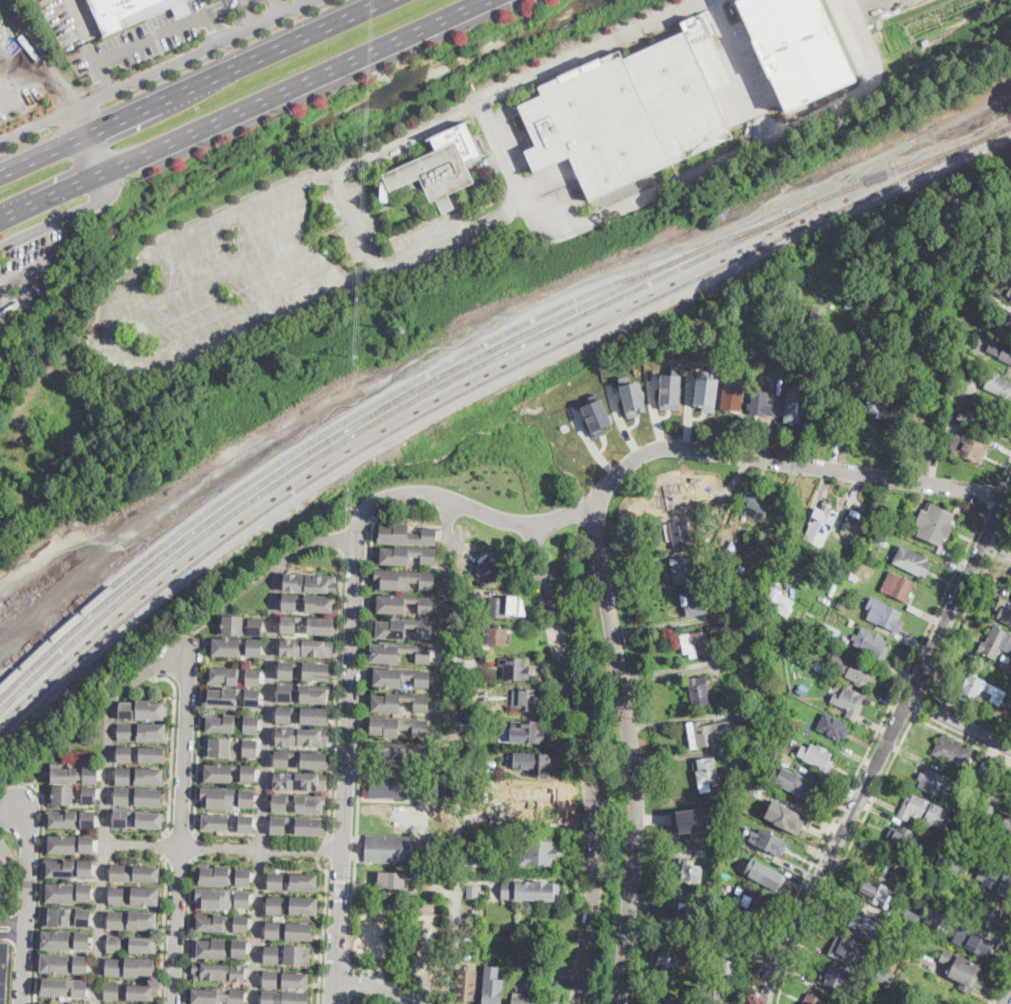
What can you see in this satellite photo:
parking lot: (237, 4)
building: (182, 8)
road: (275, 8)
parking lot: (882, 8)
building: (123, 11)
road: (250, 13)
parking lot: (70, 22)
road: (89, 29)
road: (152, 35)
railway: (960, 36)
parking lot: (146, 37)
railway: (947, 38)
building: (926, 41)
building: (797, 47)
road: (588, 48)
road: (157, 71)
parking lot: (743, 75)
road: (59, 85)
road: (196, 88)
road: (861, 89)
parking lot: (16, 100)
road: (244, 108)
building: (633, 110)
road: (718, 163)
building: (440, 166)
parking lot: (567, 184)
road: (65, 216)
parking lot: (431, 246)
building: (813, 264)
road: (382, 265)
parking lot: (239, 272)
road: (207, 278)
building: (770, 292)
building: (735, 295)
building: (30, 297)
building: (12, 317)
building: (818, 319)
building: (1009, 323)
road: (109, 332)
railway: (539, 336)
building: (865, 350)
building: (1003, 351)
building: (973, 353)
building: (999, 385)
railway: (476, 387)
building: (885, 388)
building: (671, 389)
building: (707, 391)
building: (734, 392)
building: (633, 396)
building: (760, 403)
building: (878, 405)
building: (794, 409)
building: (828, 413)
building: (598, 415)
railway: (367, 418)
building: (981, 421)
railway: (344, 422)
building: (922, 442)
road: (666, 447)
building: (969, 448)
road: (1004, 469)
building: (695, 479)
road: (992, 493)
building: (674, 496)
building: (757, 506)
building: (789, 517)
building: (888, 517)
building: (824, 520)
building: (856, 523)
building: (935, 524)
building: (880, 532)
building: (681, 534)
building: (701, 534)
building: (405, 536)
building: (714, 536)
building: (722, 539)
building: (732, 543)
building: (781, 548)
road: (356, 552)
building: (729, 552)
building: (778, 555)
building: (403, 556)
building: (911, 560)
building: (490, 569)
building: (686, 569)
building: (701, 577)
building: (854, 577)
building: (402, 580)
building: (308, 582)
building: (897, 586)
building: (1010, 586)
road: (959, 594)
road: (235, 596)
building: (701, 601)
building: (780, 601)
building: (304, 603)
building: (402, 603)
road: (968, 603)
building: (516, 604)
building: (842, 604)
building: (498, 607)
building: (1004, 609)
building: (884, 613)
road: (441, 617)
building: (472, 618)
building: (228, 623)
building: (303, 624)
road: (669, 624)
building: (252, 625)
building: (401, 629)
building: (830, 633)
building: (496, 636)
building: (760, 640)
building: (702, 642)
building: (996, 642)
building: (872, 644)
building: (223, 645)
building: (251, 646)
building: (304, 646)
building: (399, 652)
railway: (60, 654)
railway: (25, 660)
building: (770, 661)
railway: (25, 666)
building: (824, 666)
road: (669, 668)
building: (515, 669)
building: (302, 670)
building: (858, 672)
building: (219, 673)
building: (249, 675)
building: (399, 676)
road: (673, 677)
building: (803, 690)
building: (993, 690)
building: (700, 691)
building: (299, 693)
road: (335, 694)
building: (219, 696)
building: (249, 697)
building: (523, 698)
building: (848, 701)
building: (397, 702)
road: (919, 702)
building: (766, 708)
building: (127, 709)
building: (152, 710)
road: (968, 710)
building: (298, 715)
building: (217, 722)
building: (248, 723)
building: (792, 723)
road: (960, 724)
building: (395, 725)
road: (197, 727)
building: (834, 727)
building: (125, 732)
building: (531, 732)
building: (152, 733)
building: (704, 734)
building: (297, 736)
road: (963, 738)
road: (446, 740)
road: (267, 741)
road: (347, 743)
road: (172, 745)
building: (216, 746)
building: (247, 747)
building: (752, 749)
building: (392, 750)
road: (630, 753)
building: (770, 753)
road: (865, 753)
building: (952, 753)
building: (125, 755)
road: (360, 755)
building: (153, 756)
building: (298, 758)
building: (818, 758)
road: (586, 762)
building: (538, 764)
road: (457, 766)
building: (215, 772)
building: (245, 772)
building: (707, 773)
building: (75, 776)
building: (124, 777)
building: (151, 777)
building: (298, 780)
building: (930, 780)
building: (472, 782)
building: (731, 785)
building: (979, 785)
building: (390, 787)
building: (803, 787)
building: (761, 788)
building: (494, 794)
building: (73, 795)
building: (543, 796)
building: (123, 797)
building: (216, 797)
building: (151, 798)
building: (244, 798)
building: (295, 803)
building: (920, 809)
building: (985, 813)
building: (787, 816)
building: (71, 819)
building: (122, 819)
building: (689, 819)
building: (151, 821)
building: (1007, 821)
building: (213, 822)
building: (242, 824)
building: (293, 825)
road: (183, 829)
road: (180, 832)
building: (732, 834)
building: (903, 837)
building: (768, 841)
road: (166, 843)
building: (71, 844)
road: (193, 844)
road: (324, 846)
road: (222, 848)
building: (389, 849)
building: (948, 849)
road: (834, 850)
building: (5, 852)
road: (104, 852)
building: (540, 852)
building: (700, 853)
road: (178, 855)
building: (475, 857)
building: (941, 857)
road: (846, 859)
building: (959, 859)
building: (429, 862)
building: (70, 868)
building: (693, 872)
building: (119, 873)
building: (763, 873)
building: (723, 874)
building: (148, 875)
building: (212, 875)
building: (242, 877)
building: (935, 878)
building: (273, 881)
building: (300, 881)
building: (396, 881)
building: (948, 883)
building: (1005, 883)
building: (531, 890)
building: (474, 892)
building: (69, 893)
building: (879, 893)
building: (117, 896)
building: (147, 897)
building: (673, 897)
building: (211, 899)
building: (242, 900)
building: (272, 904)
building: (749, 904)
building: (300, 905)
building: (658, 905)
road: (26, 906)
building: (722, 912)
building: (938, 914)
building: (911, 915)
building: (988, 915)
building: (67, 917)
building: (116, 919)
road: (13, 920)
building: (144, 920)
building: (207, 922)
building: (553, 922)
building: (238, 924)
building: (865, 924)
road: (323, 927)
building: (671, 928)
road: (164, 929)
road: (188, 929)
building: (270, 930)
building: (296, 931)
building: (905, 933)
road: (12, 934)
building: (735, 937)
building: (66, 940)
park: (402, 941)
building: (975, 942)
building: (115, 944)
building: (144, 945)
building: (208, 948)
building: (237, 949)
building: (851, 951)
building: (691, 953)
building: (268, 954)
building: (295, 954)
building: (915, 955)
building: (62, 963)
building: (882, 963)
building: (667, 964)
building: (114, 966)
building: (142, 967)
building: (726, 968)
building: (962, 970)
building: (1, 971)
building: (218, 973)
road: (356, 977)
building: (884, 977)
building: (267, 979)
building: (292, 979)
building: (838, 979)
building: (467, 984)
road: (1001, 984)
building: (492, 985)
road: (372, 986)
building: (62, 987)
road: (334, 987)
building: (113, 992)
building: (142, 992)
road: (361, 993)
building: (708, 995)
building: (202, 996)
building: (234, 997)
building: (282, 997)
road: (1008, 998)
building: (523, 999)
building: (813, 999)
building: (868, 1002)
building: (43, 1003)
building: (549, 1003)
park: (633, 1003)
building: (836, 1003)

